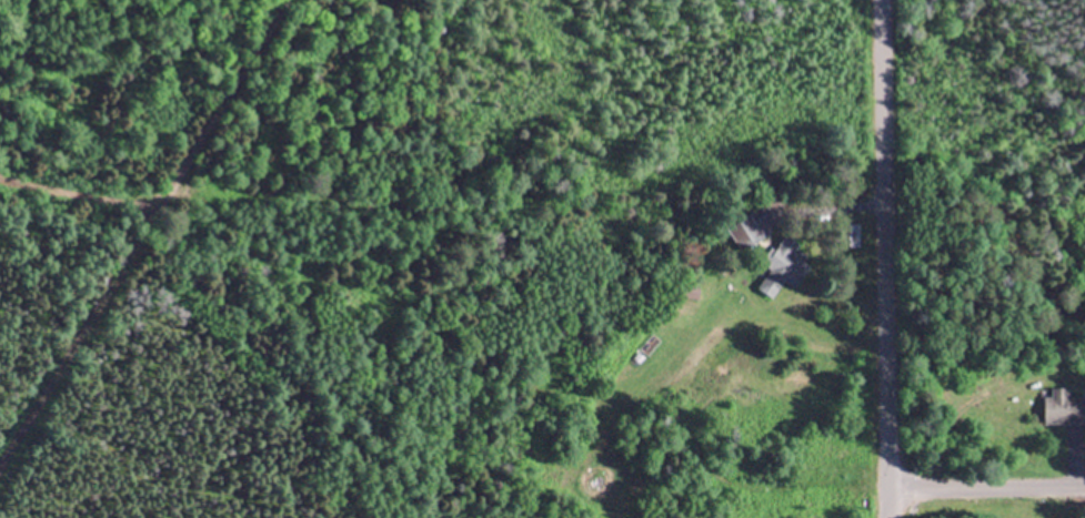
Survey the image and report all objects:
road: (139, 228)
road: (883, 258)
building: (784, 270)
building: (1064, 407)
road: (986, 486)

